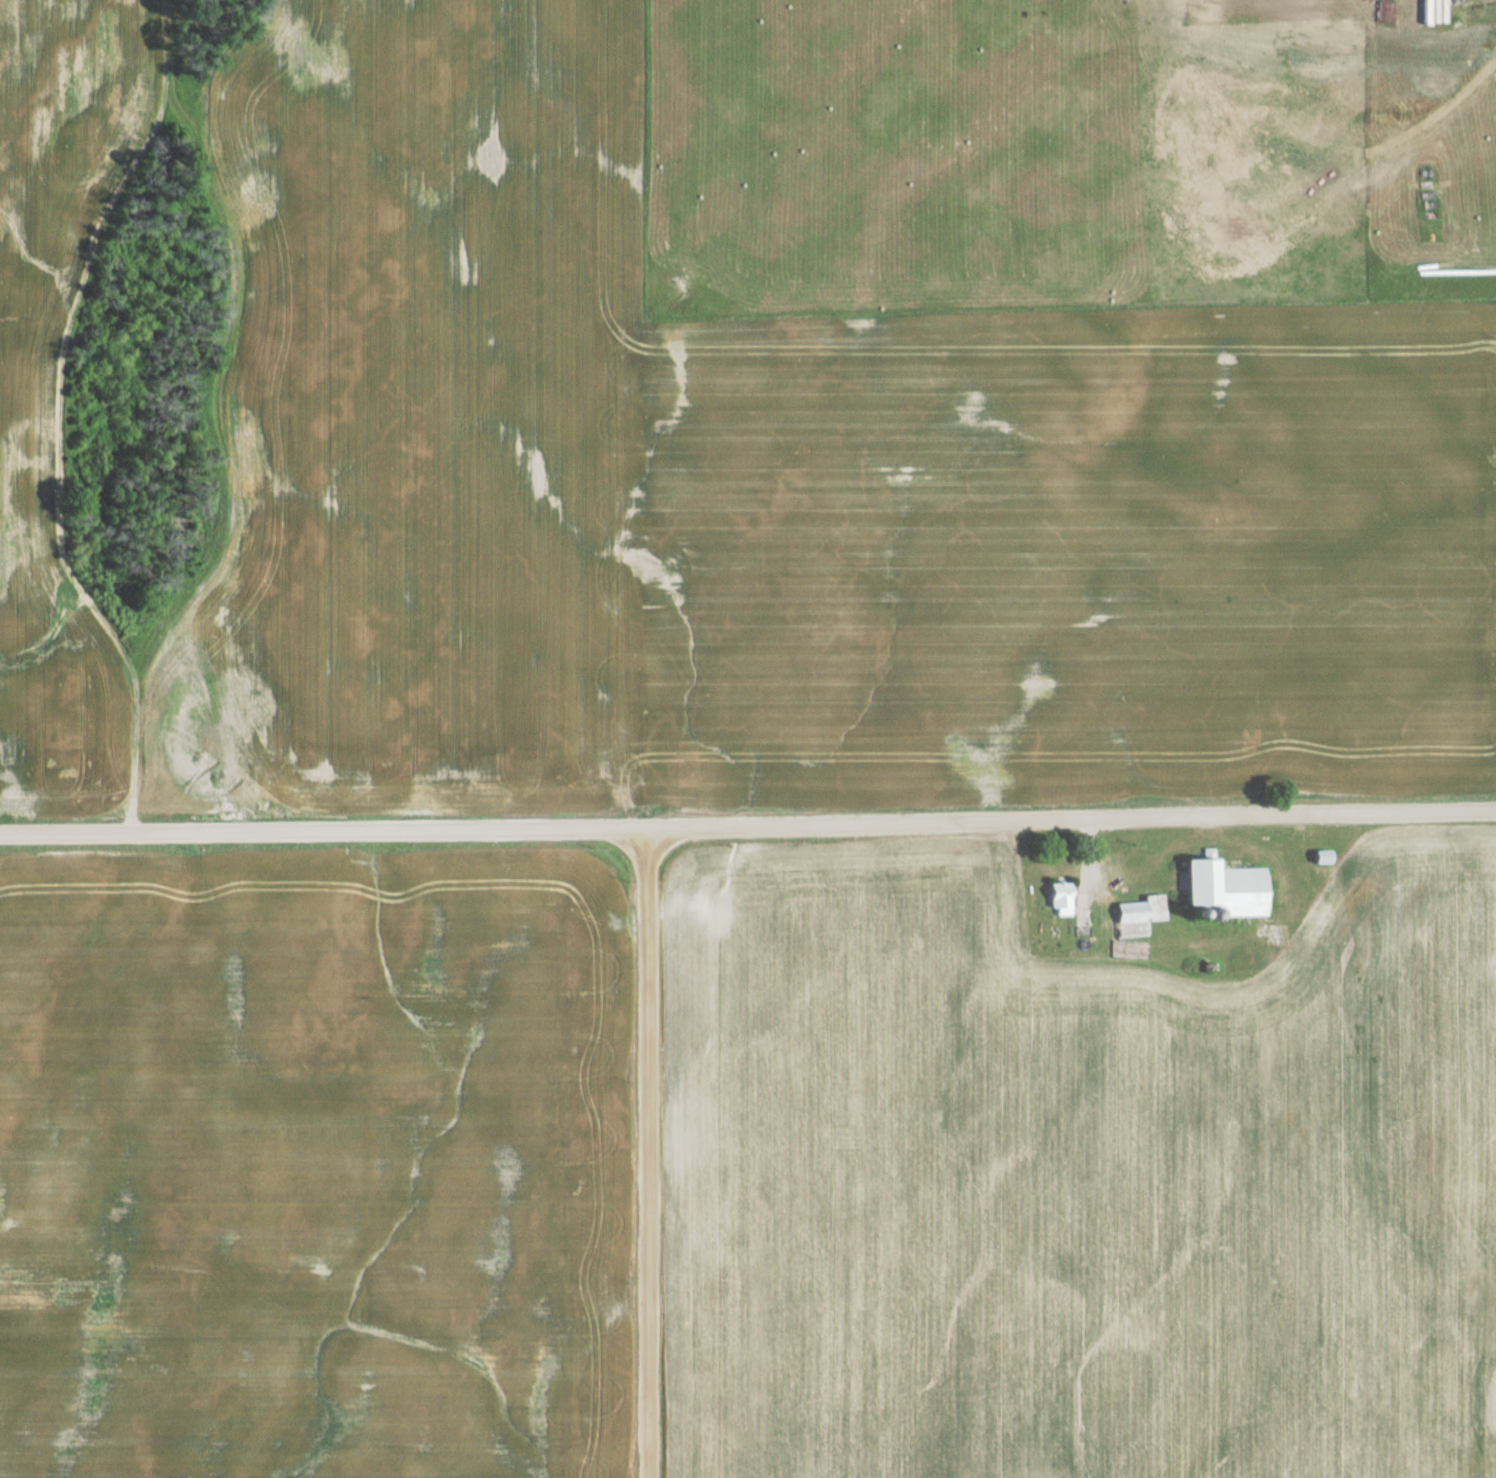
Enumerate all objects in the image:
building: (1380, 7)
road: (748, 830)
building: (1316, 858)
building: (1190, 884)
building: (1054, 898)
building: (1135, 911)
building: (1077, 920)
road: (650, 1155)

